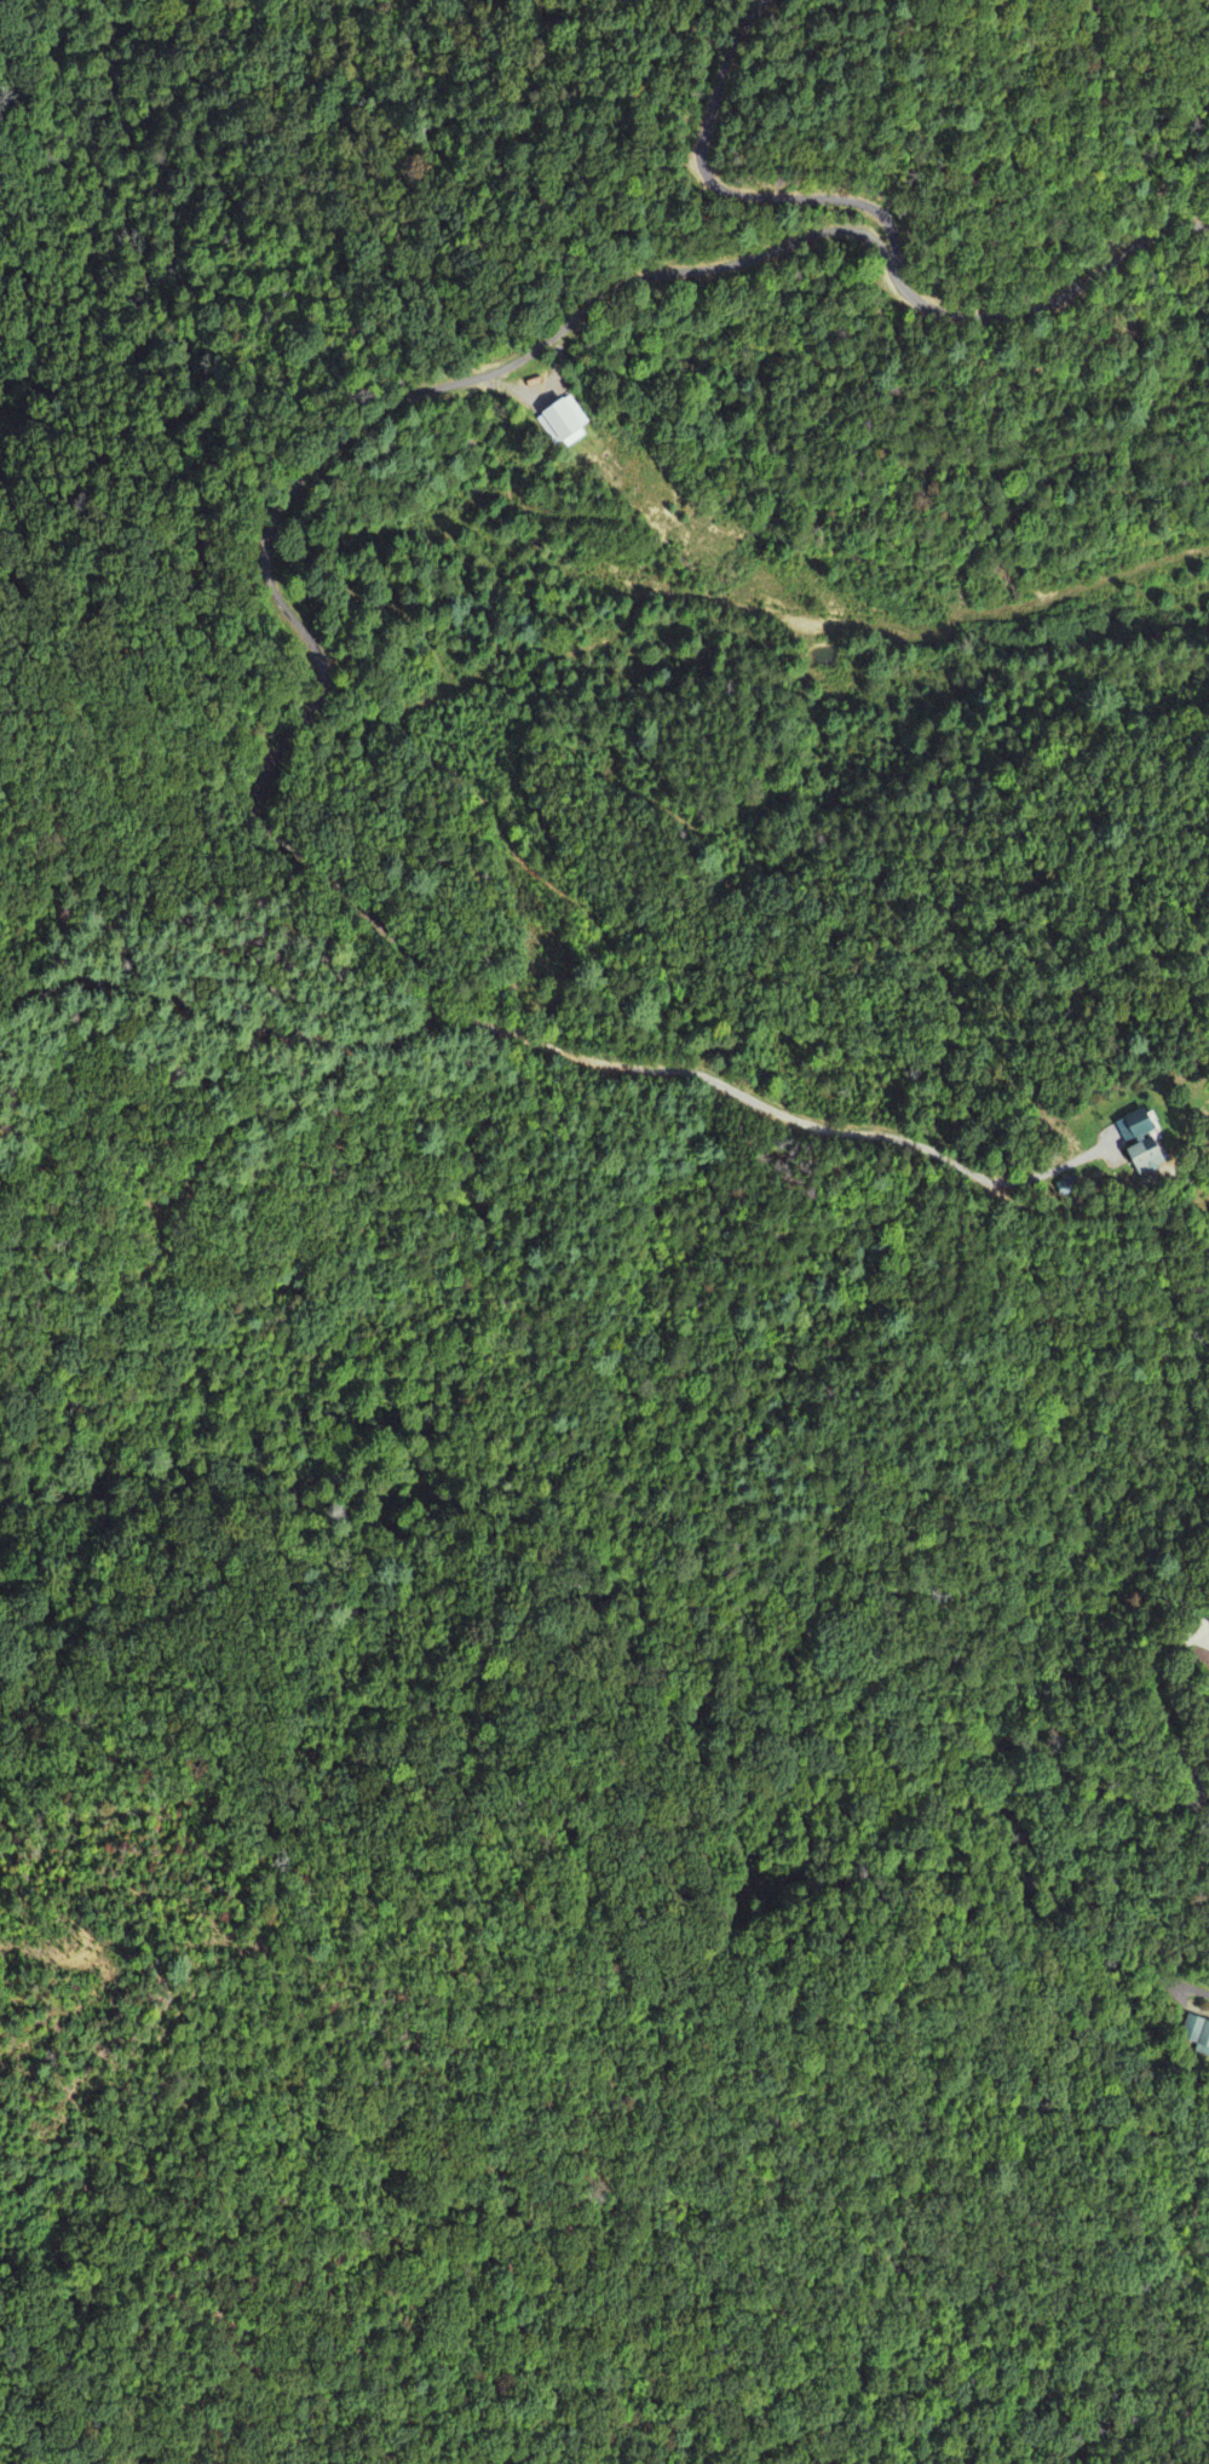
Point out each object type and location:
building: (563, 421)
road: (276, 507)
road: (724, 1085)
building: (1130, 1127)
building: (1140, 1159)
road: (1023, 1207)
building: (1197, 2037)

